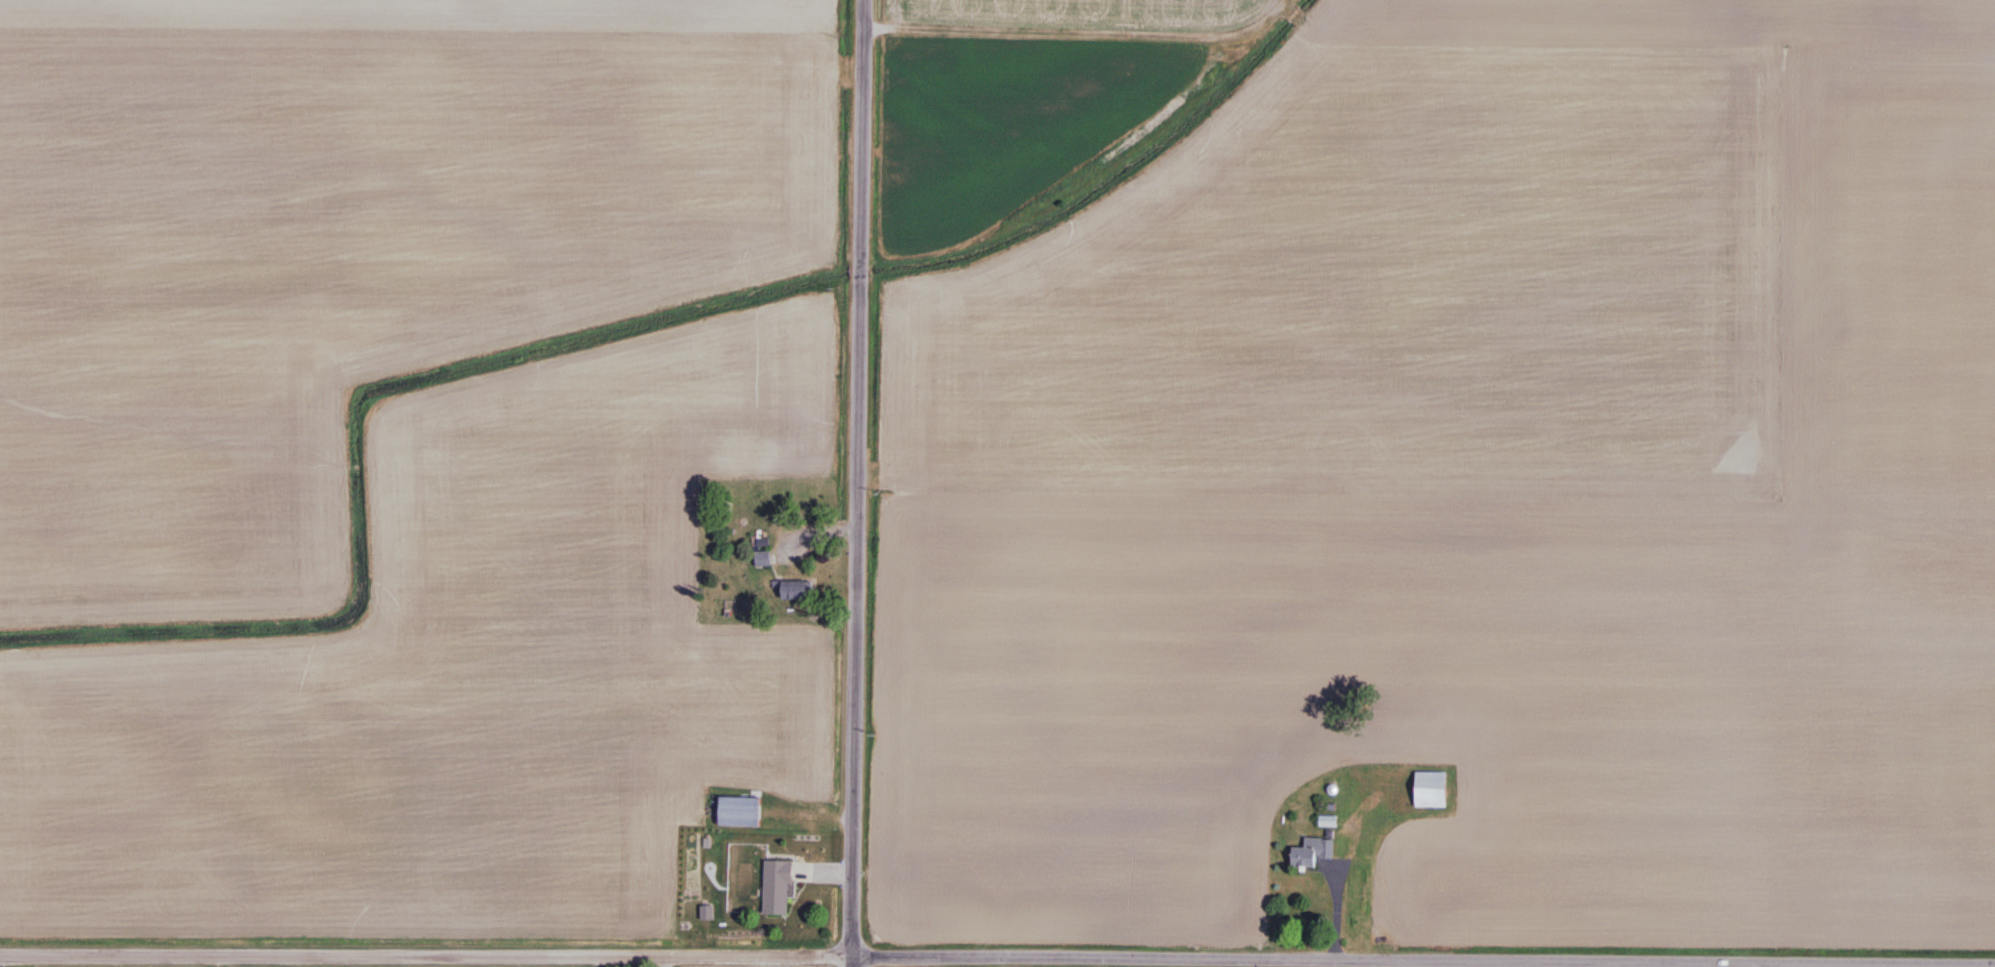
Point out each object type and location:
road: (857, 478)
building: (764, 559)
building: (794, 591)
building: (1432, 790)
building: (740, 812)
building: (1314, 852)
building: (778, 888)
road: (427, 956)
road: (1425, 959)
road: (667, 962)
road: (855, 962)

